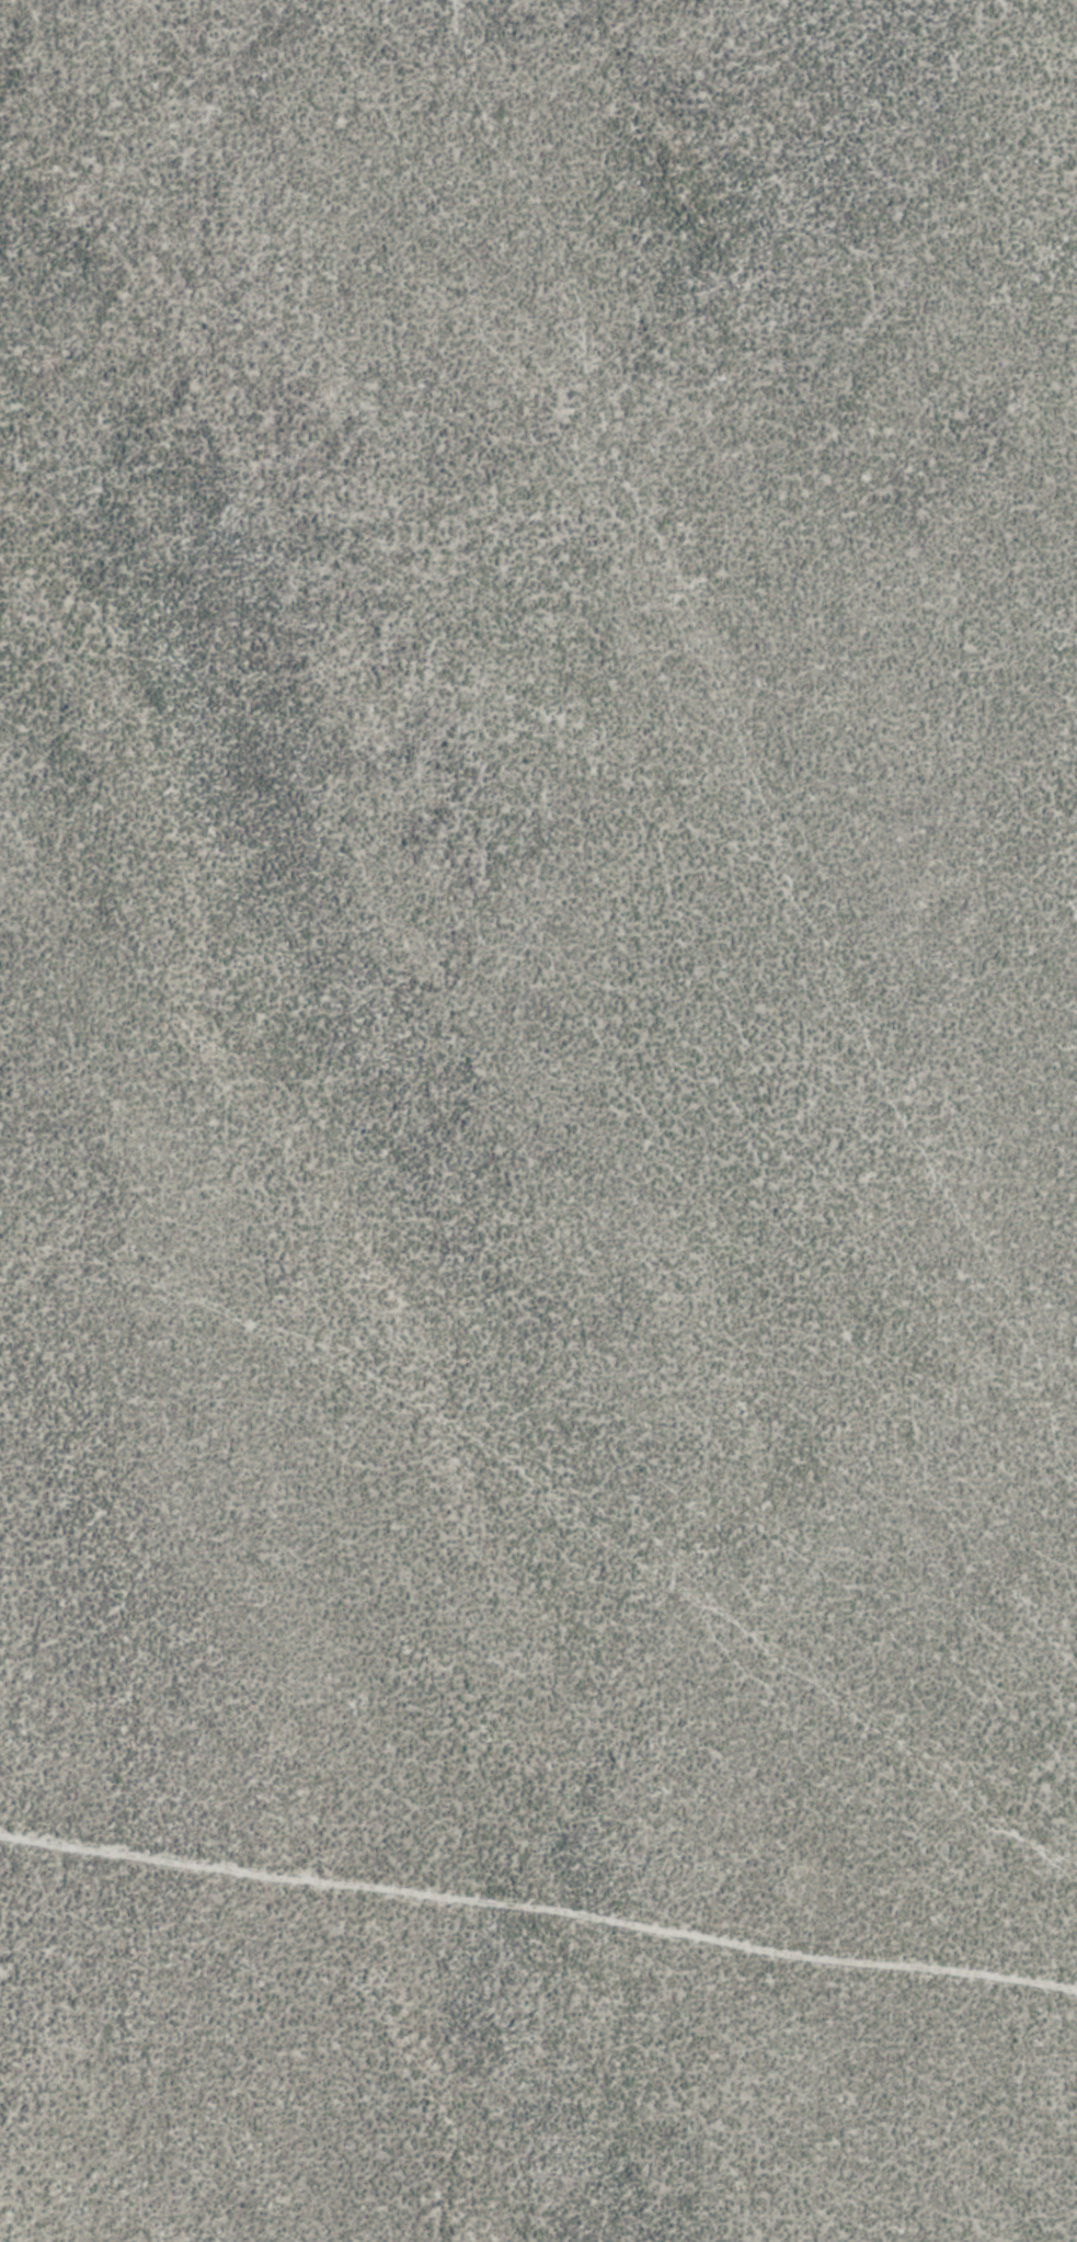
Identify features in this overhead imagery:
road: (539, 1904)

